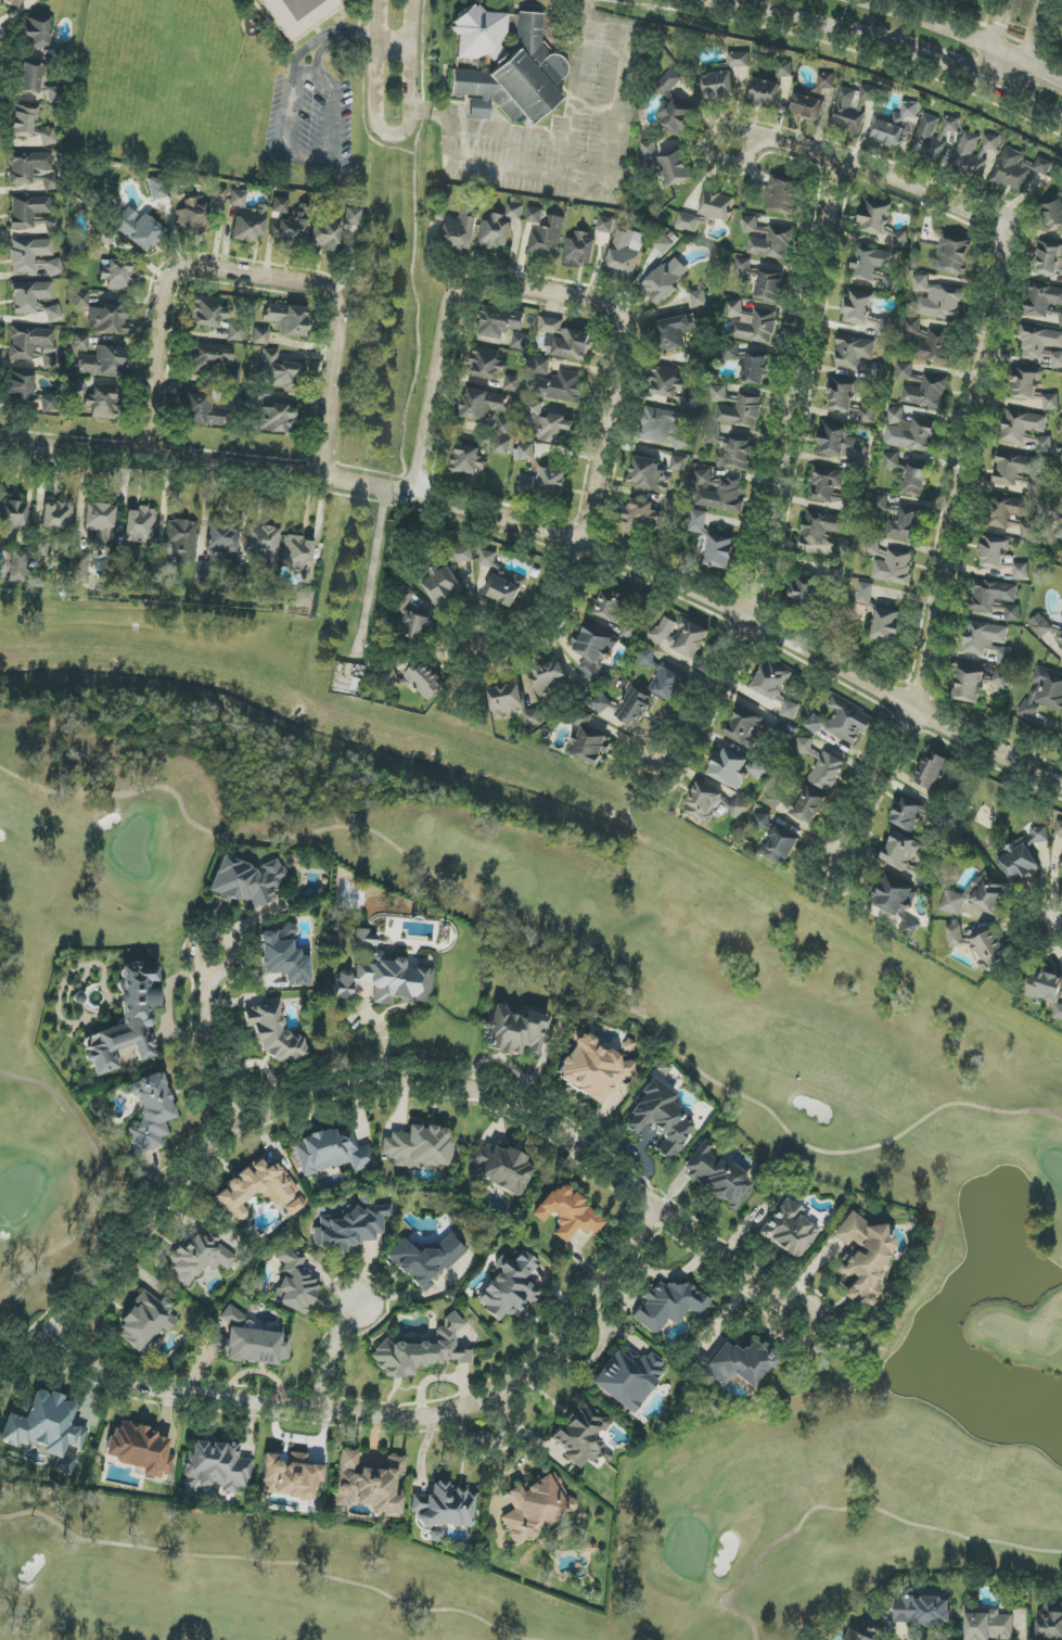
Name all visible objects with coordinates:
building: (968, 0)
building: (14, 2)
building: (296, 14)
road: (380, 18)
road: (411, 22)
road: (605, 23)
building: (37, 31)
road: (355, 34)
road: (963, 36)
road: (378, 39)
road: (886, 41)
road: (993, 42)
road: (394, 43)
road: (311, 45)
road: (1029, 52)
building: (739, 60)
building: (506, 66)
building: (784, 68)
road: (410, 76)
building: (37, 84)
building: (718, 85)
road: (575, 89)
building: (764, 93)
building: (810, 98)
building: (674, 105)
road: (334, 106)
road: (613, 106)
building: (852, 107)
road: (291, 112)
road: (373, 116)
parking lot: (310, 118)
building: (23, 120)
building: (893, 125)
building: (951, 125)
road: (488, 126)
building: (47, 137)
building: (929, 139)
road: (449, 140)
building: (989, 143)
building: (970, 155)
building: (668, 164)
building: (1018, 169)
building: (31, 170)
road: (525, 174)
road: (873, 179)
building: (156, 189)
building: (218, 194)
building: (782, 196)
building: (717, 206)
building: (27, 211)
building: (535, 215)
building: (351, 216)
building: (192, 217)
building: (247, 218)
building: (687, 223)
building: (881, 223)
building: (49, 224)
building: (287, 224)
building: (605, 225)
building: (750, 225)
building: (500, 228)
building: (139, 229)
building: (462, 230)
building: (324, 231)
building: (107, 237)
building: (547, 239)
building: (771, 243)
building: (663, 244)
building: (579, 250)
building: (625, 253)
building: (28, 254)
building: (952, 254)
building: (1049, 259)
building: (870, 262)
building: (742, 266)
building: (54, 267)
building: (664, 281)
building: (769, 287)
road: (259, 290)
building: (29, 296)
building: (699, 298)
building: (80, 300)
building: (937, 300)
building: (1044, 303)
building: (734, 308)
building: (207, 312)
building: (865, 312)
building: (53, 314)
building: (108, 319)
building: (287, 319)
building: (500, 322)
building: (758, 327)
building: (676, 331)
building: (235, 332)
road: (632, 335)
building: (260, 336)
building: (520, 341)
building: (566, 341)
building: (80, 342)
building: (1038, 342)
building: (929, 343)
building: (34, 345)
building: (854, 351)
building: (208, 357)
building: (1057, 360)
building: (101, 363)
building: (487, 364)
building: (540, 366)
building: (755, 368)
building: (279, 371)
building: (875, 371)
building: (905, 371)
building: (512, 383)
building: (666, 383)
building: (20, 386)
building: (78, 386)
building: (562, 386)
building: (1032, 389)
building: (841, 393)
building: (925, 393)
building: (691, 402)
building: (51, 403)
building: (103, 404)
building: (483, 404)
building: (532, 408)
building: (735, 408)
building: (202, 410)
building: (866, 415)
building: (277, 419)
building: (660, 423)
building: (504, 425)
building: (554, 429)
building: (1025, 431)
building: (909, 432)
building: (713, 435)
building: (680, 441)
building: (841, 444)
building: (501, 446)
building: (526, 452)
building: (739, 456)
building: (468, 460)
building: (891, 460)
building: (678, 463)
building: (1015, 472)
building: (648, 473)
building: (916, 482)
building: (546, 483)
road: (785, 488)
building: (829, 488)
building: (717, 492)
building: (671, 506)
building: (1007, 510)
building: (11, 516)
building: (640, 516)
building: (57, 517)
building: (698, 521)
building: (100, 523)
building: (906, 523)
building: (140, 525)
building: (827, 532)
building: (1059, 536)
building: (181, 539)
building: (222, 539)
road: (555, 539)
building: (264, 543)
building: (40, 547)
building: (871, 547)
building: (719, 551)
building: (297, 552)
building: (993, 552)
building: (460, 555)
building: (488, 558)
road: (374, 563)
building: (18, 565)
building: (80, 567)
road: (954, 567)
building: (894, 568)
building: (1021, 571)
building: (203, 572)
building: (836, 574)
building: (444, 585)
building: (504, 586)
building: (865, 593)
building: (991, 595)
building: (304, 597)
building: (612, 605)
building: (1012, 613)
building: (886, 624)
building: (1040, 626)
building: (418, 627)
building: (629, 632)
building: (663, 632)
building: (1060, 636)
building: (690, 638)
building: (983, 638)
building: (593, 651)
building: (1005, 656)
building: (647, 658)
building: (549, 677)
building: (1001, 678)
building: (425, 679)
building: (771, 681)
building: (666, 683)
building: (969, 685)
building: (1044, 694)
building: (506, 700)
building: (601, 703)
building: (634, 707)
building: (790, 710)
building: (533, 717)
building: (847, 721)
building: (815, 724)
building: (745, 727)
building: (589, 741)
building: (804, 746)
building: (729, 768)
building: (932, 771)
building: (827, 772)
building: (775, 799)
building: (712, 804)
building: (809, 805)
building: (908, 814)
building: (763, 822)
building: (1059, 828)
building: (1039, 835)
building: (779, 847)
building: (901, 851)
building: (1018, 862)
building: (1061, 864)
building: (921, 876)
building: (246, 881)
building: (977, 894)
building: (897, 902)
building: (955, 935)
road: (1058, 936)
building: (364, 939)
building: (988, 949)
building: (283, 956)
building: (394, 980)
building: (343, 984)
road: (209, 989)
building: (1047, 990)
building: (128, 1019)
building: (514, 1031)
building: (272, 1032)
building: (591, 1068)
road: (366, 1080)
park: (890, 1106)
building: (151, 1113)
building: (661, 1118)
building: (420, 1147)
building: (331, 1153)
building: (500, 1168)
building: (716, 1175)
building: (259, 1190)
building: (567, 1213)
building: (350, 1228)
building: (789, 1229)
building: (197, 1257)
building: (863, 1258)
building: (425, 1260)
building: (294, 1282)
building: (509, 1286)
building: (668, 1306)
building: (145, 1322)
road: (814, 1334)
building: (249, 1342)
building: (422, 1351)
road: (332, 1357)
building: (735, 1364)
building: (628, 1378)
road: (388, 1415)
building: (44, 1425)
building: (581, 1434)
road: (492, 1444)
building: (140, 1449)
building: (216, 1466)
building: (290, 1476)
building: (369, 1485)
building: (537, 1505)
building: (445, 1506)
building: (922, 1611)
building: (1050, 1622)
building: (988, 1626)
building: (862, 1632)

